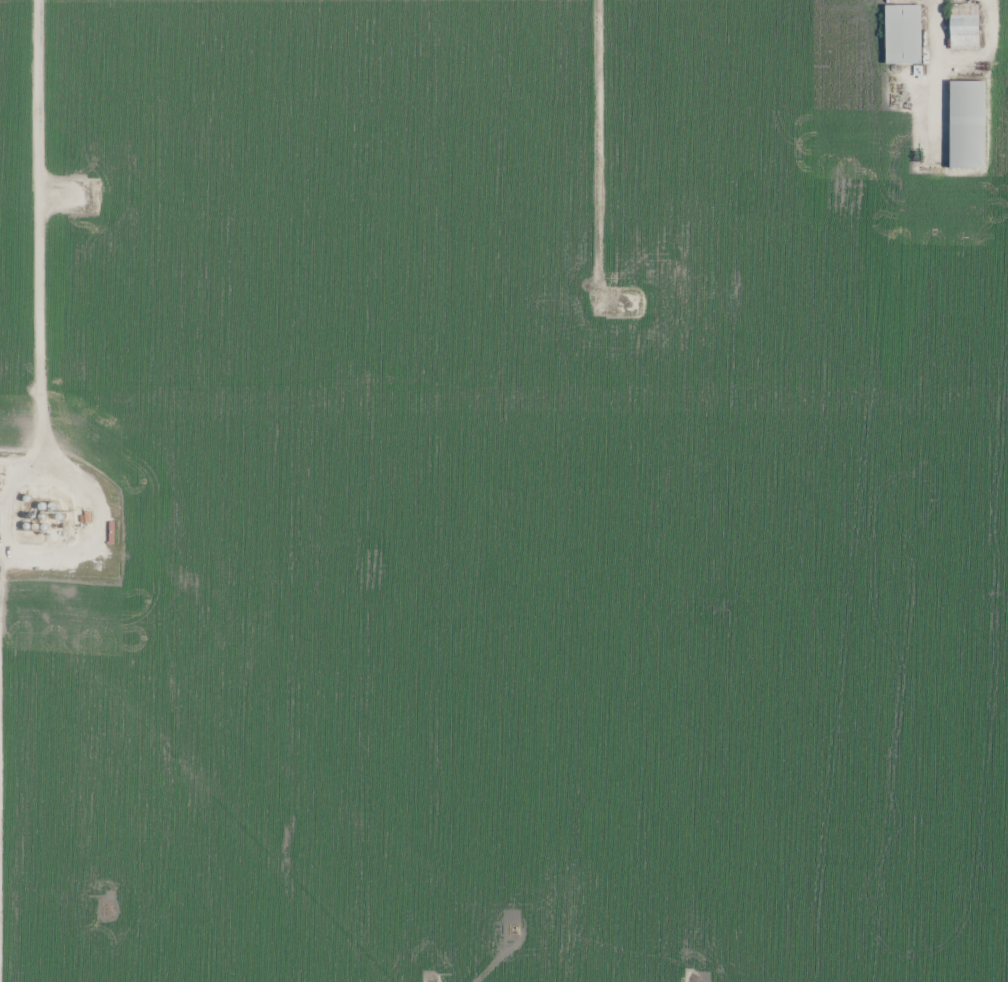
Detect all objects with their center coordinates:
building: (965, 26)
building: (903, 34)
building: (967, 124)

